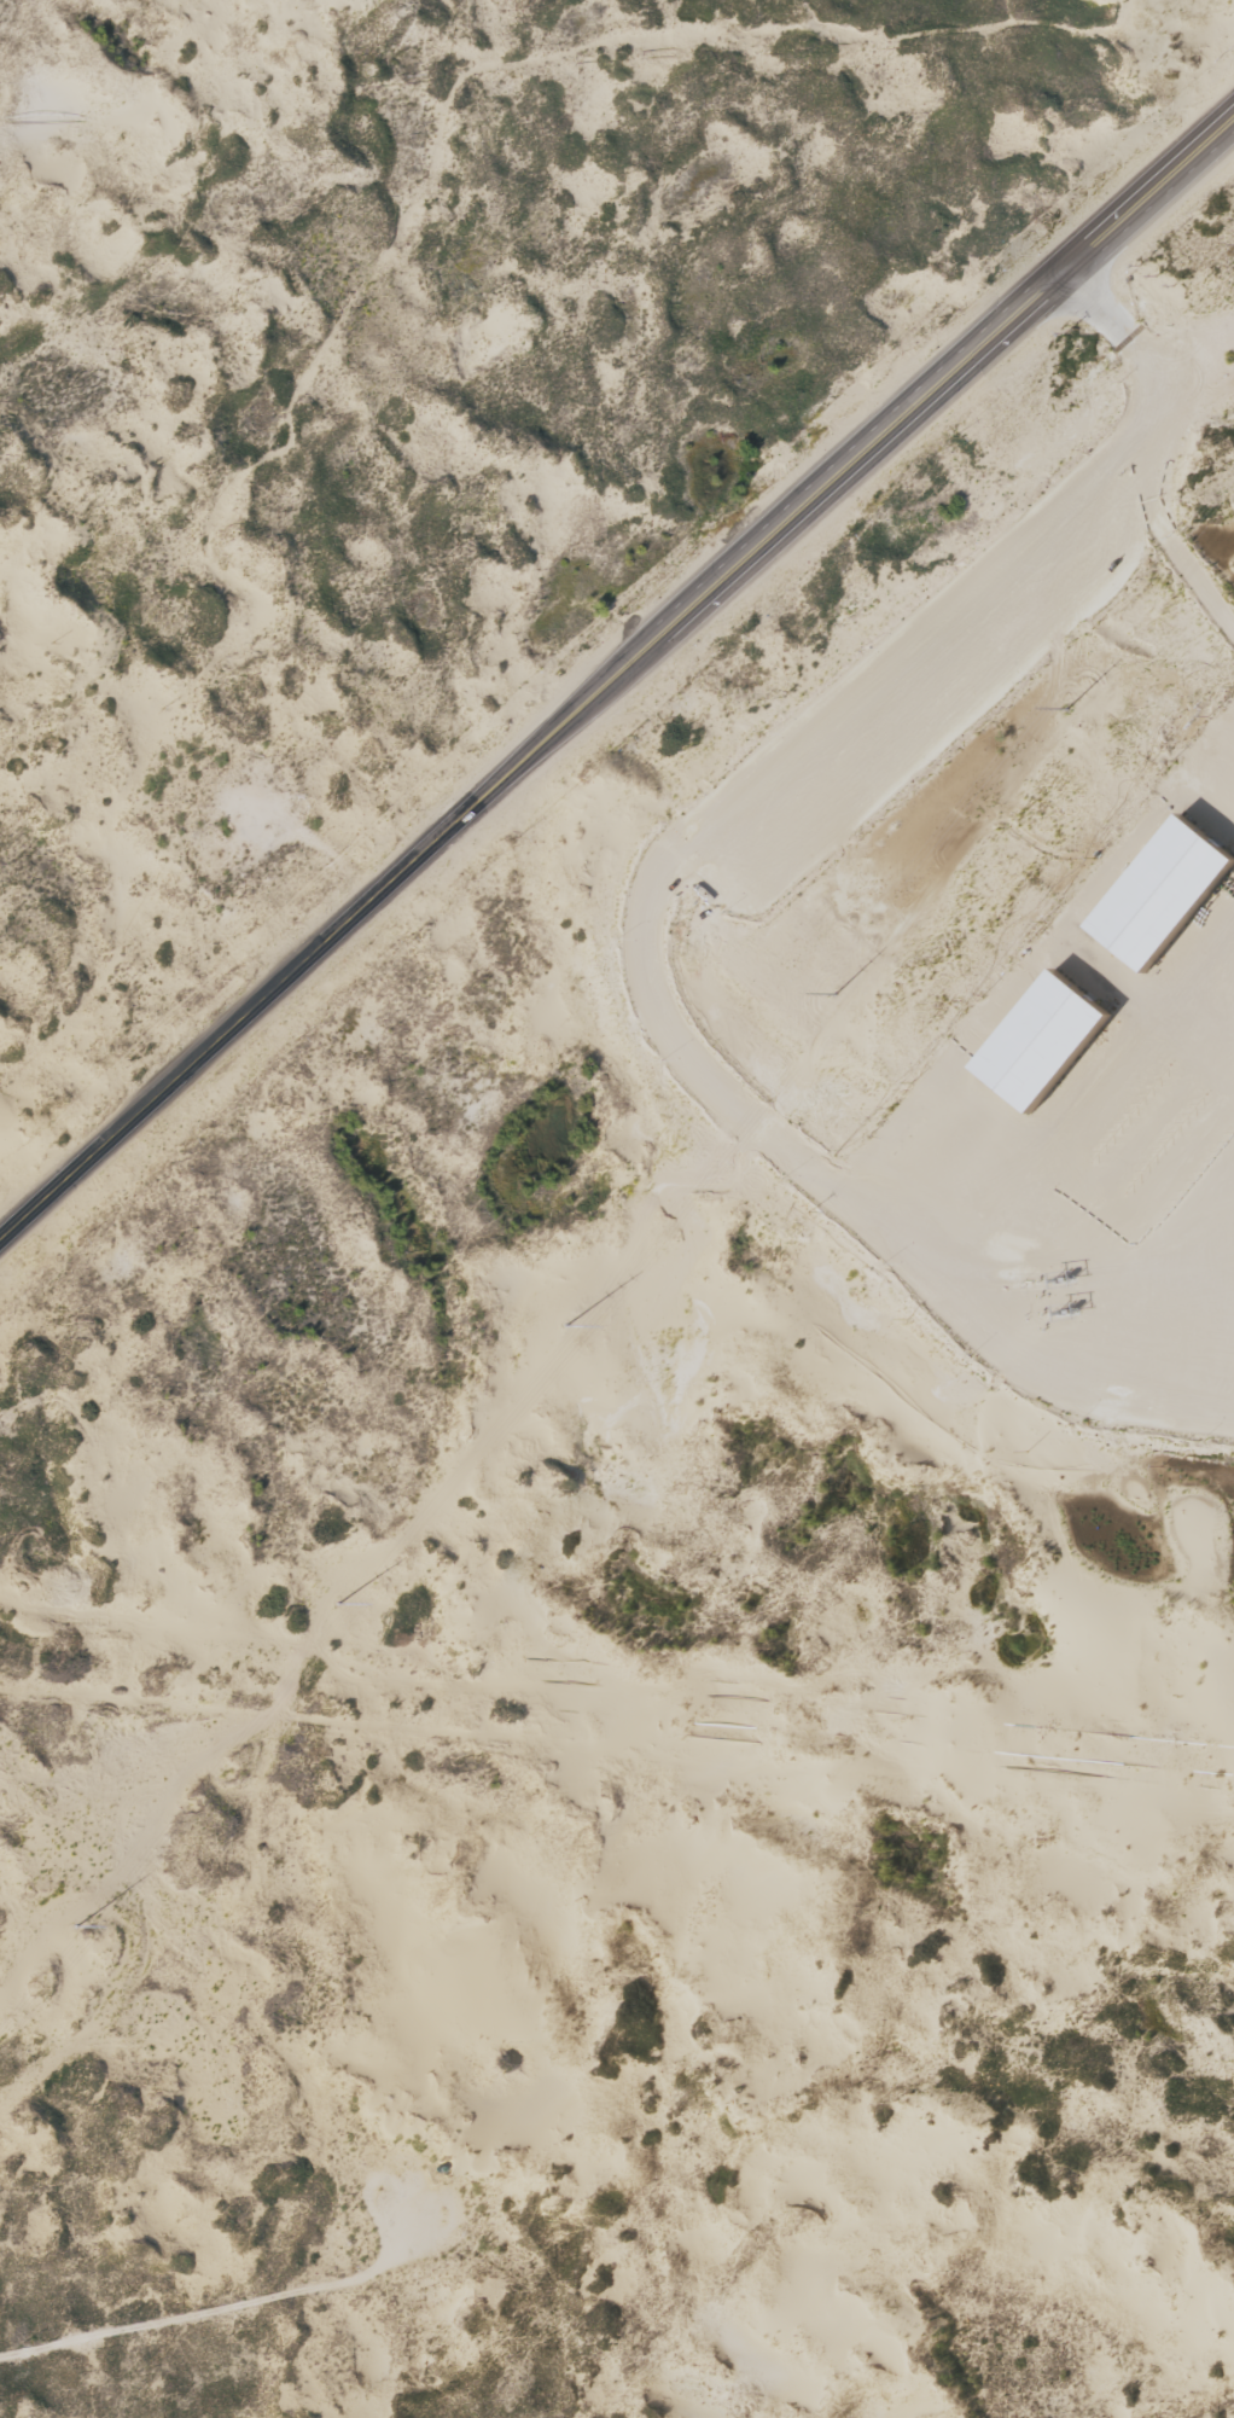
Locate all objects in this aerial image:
road: (617, 687)
power tower: (1082, 726)
building: (1165, 889)
power tower: (850, 1011)
building: (1047, 1036)
power tower: (577, 1342)
power tower: (349, 1618)
power tower: (92, 1942)

